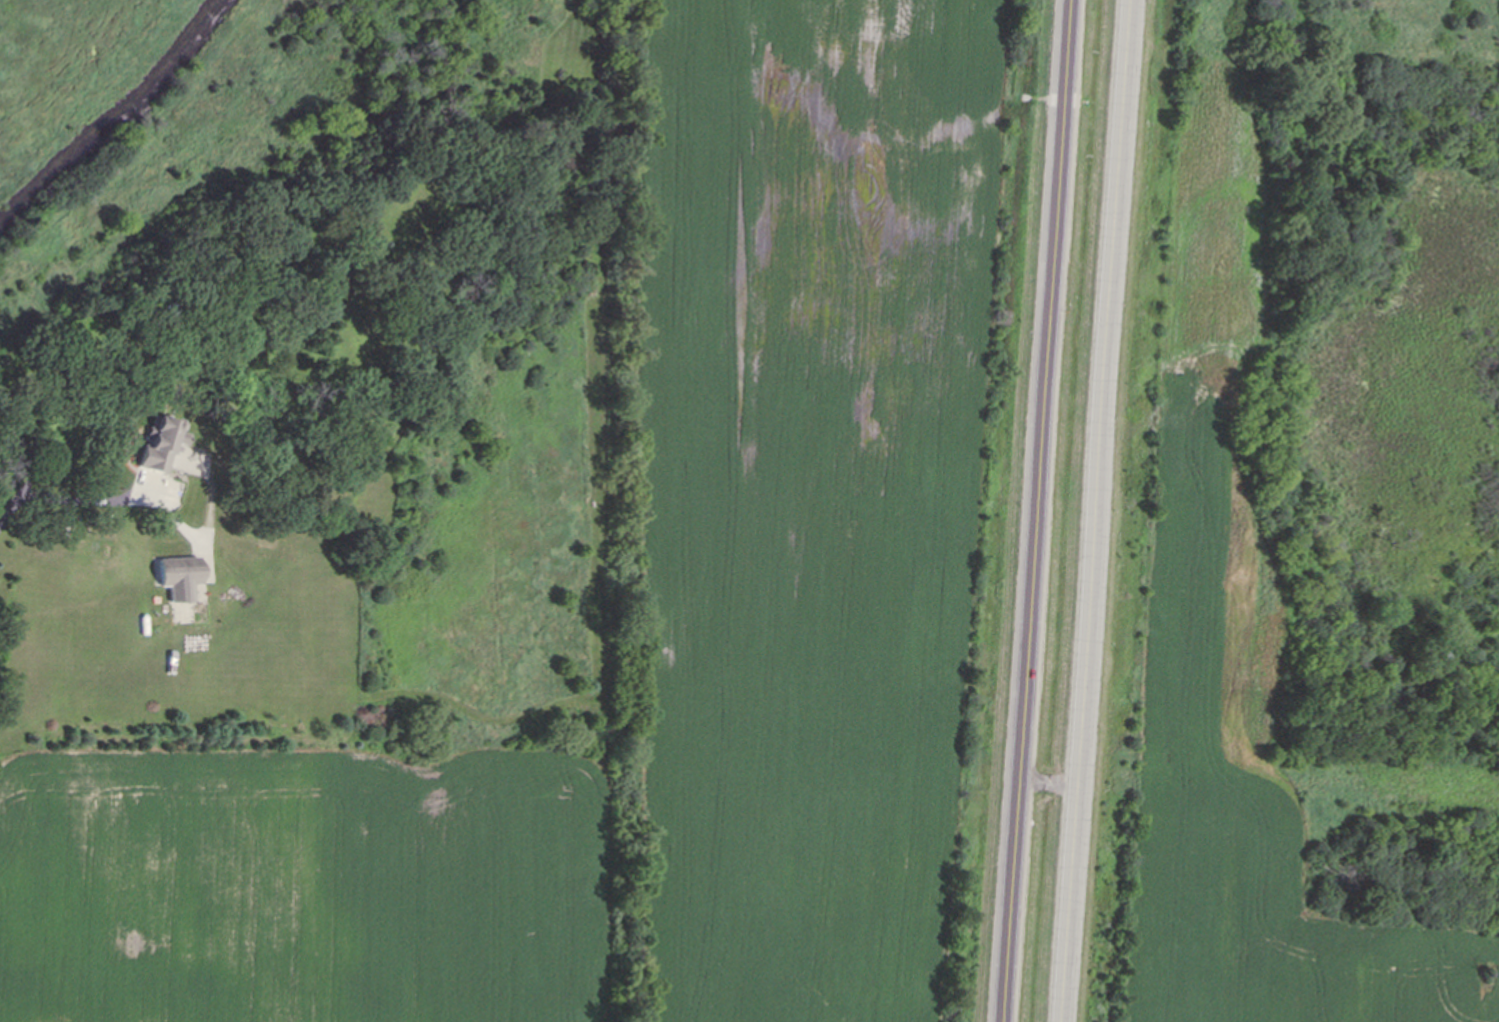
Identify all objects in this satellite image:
building: (160, 469)
road: (74, 495)
road: (1037, 511)
road: (1098, 511)
building: (181, 577)

